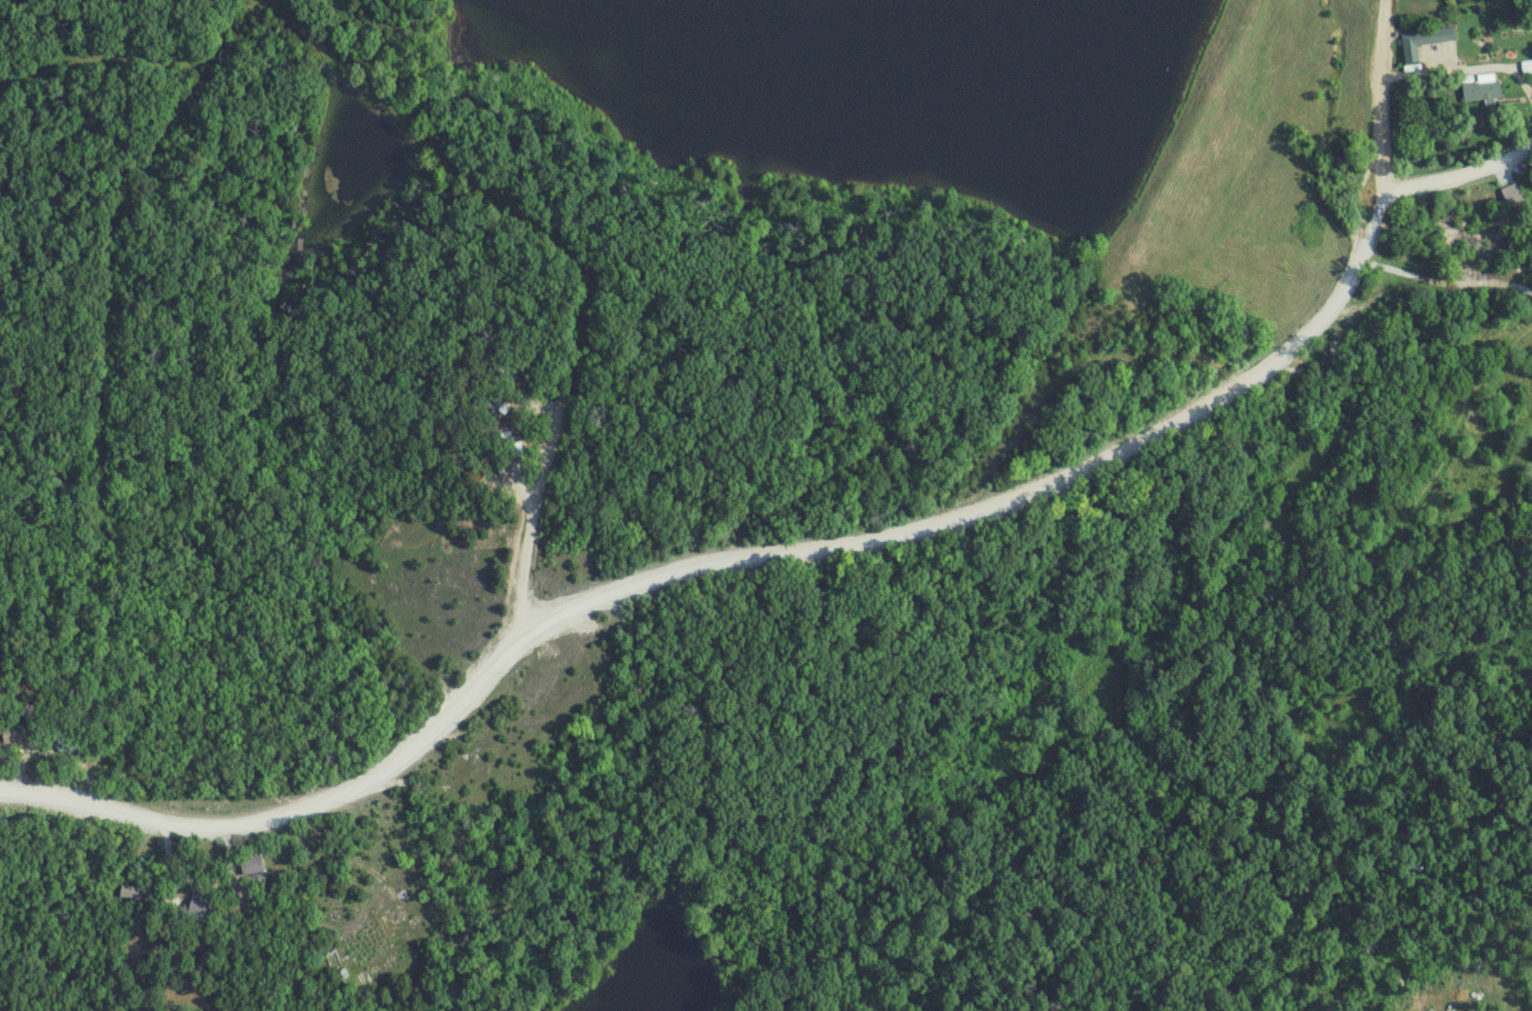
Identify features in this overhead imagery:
building: (1425, 42)
road: (1463, 70)
building: (1483, 90)
road: (1380, 93)
road: (1459, 176)
building: (1514, 195)
road: (569, 251)
road: (1446, 286)
building: (498, 397)
road: (721, 562)
building: (13, 736)
building: (254, 867)
building: (204, 907)

